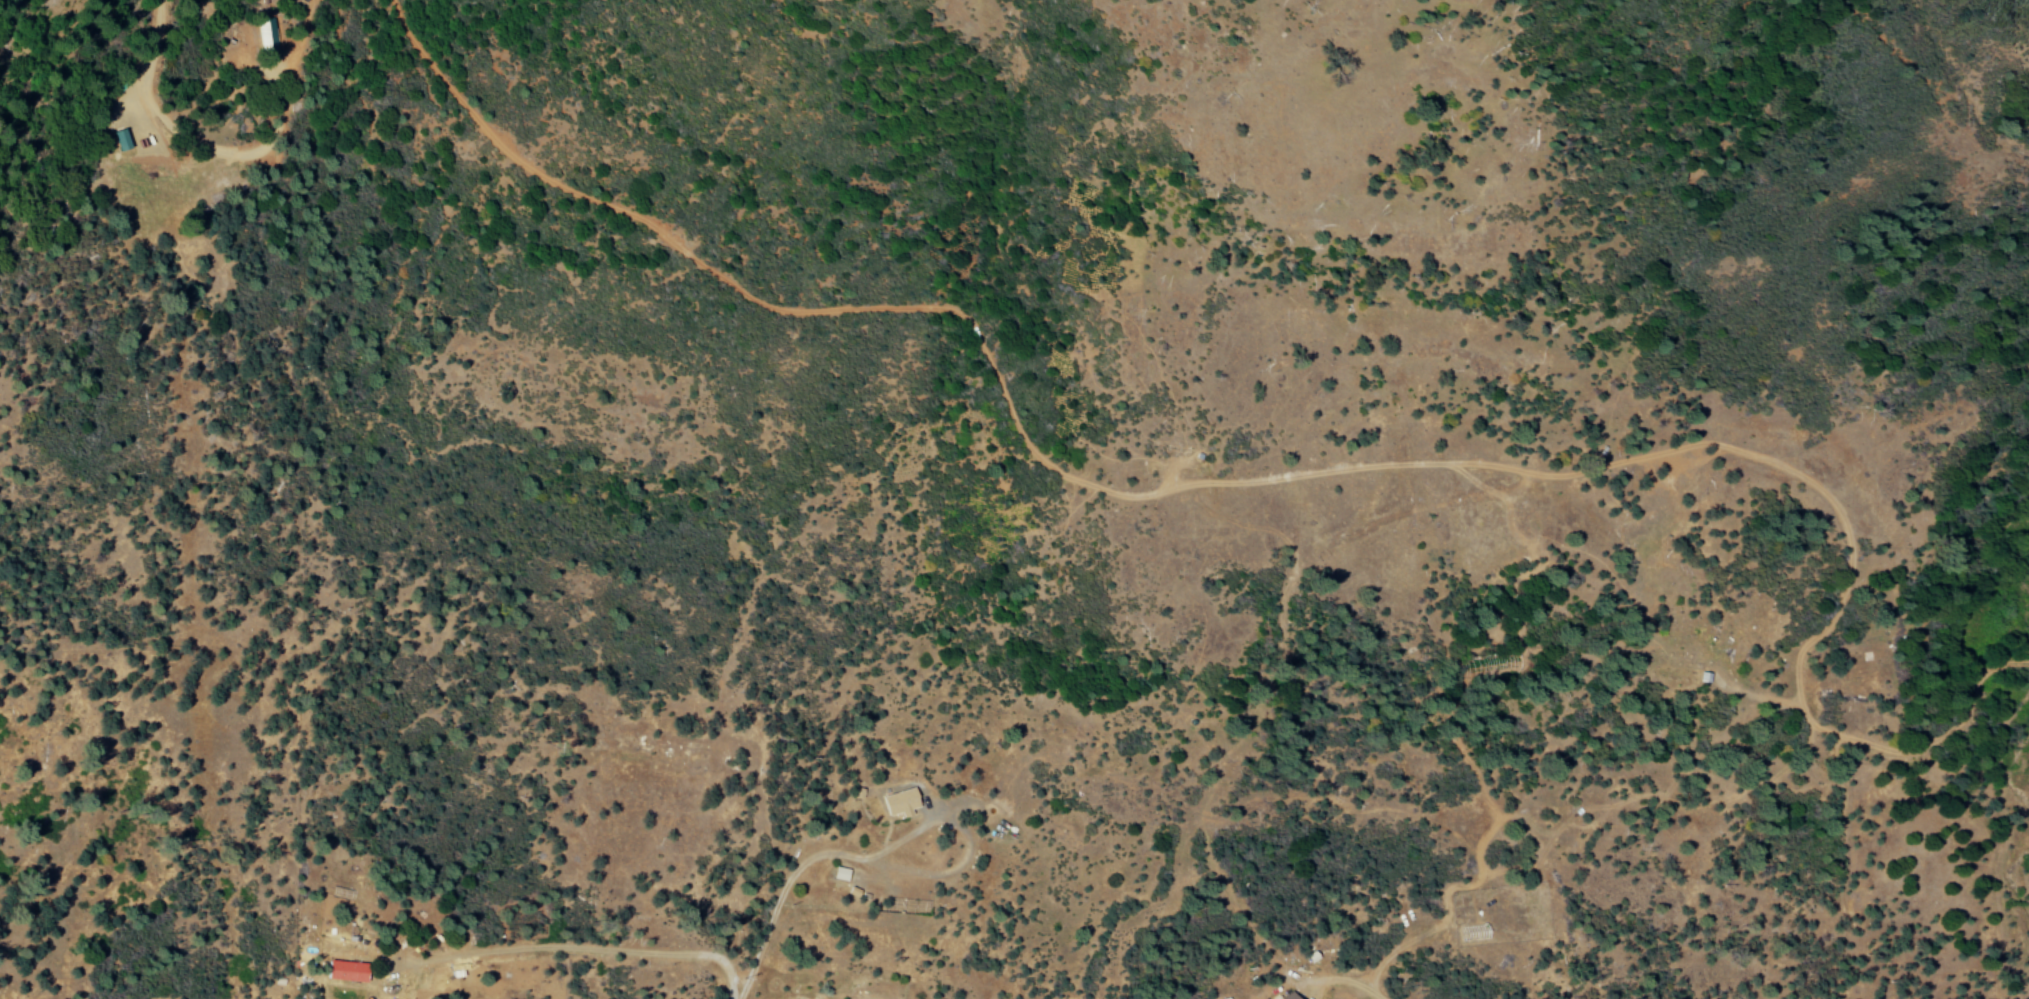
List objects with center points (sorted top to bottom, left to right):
building: (267, 39)
building: (122, 142)
building: (896, 803)
road: (877, 853)
road: (794, 867)
road: (755, 936)
building: (341, 972)
road: (1343, 980)
building: (1286, 997)

